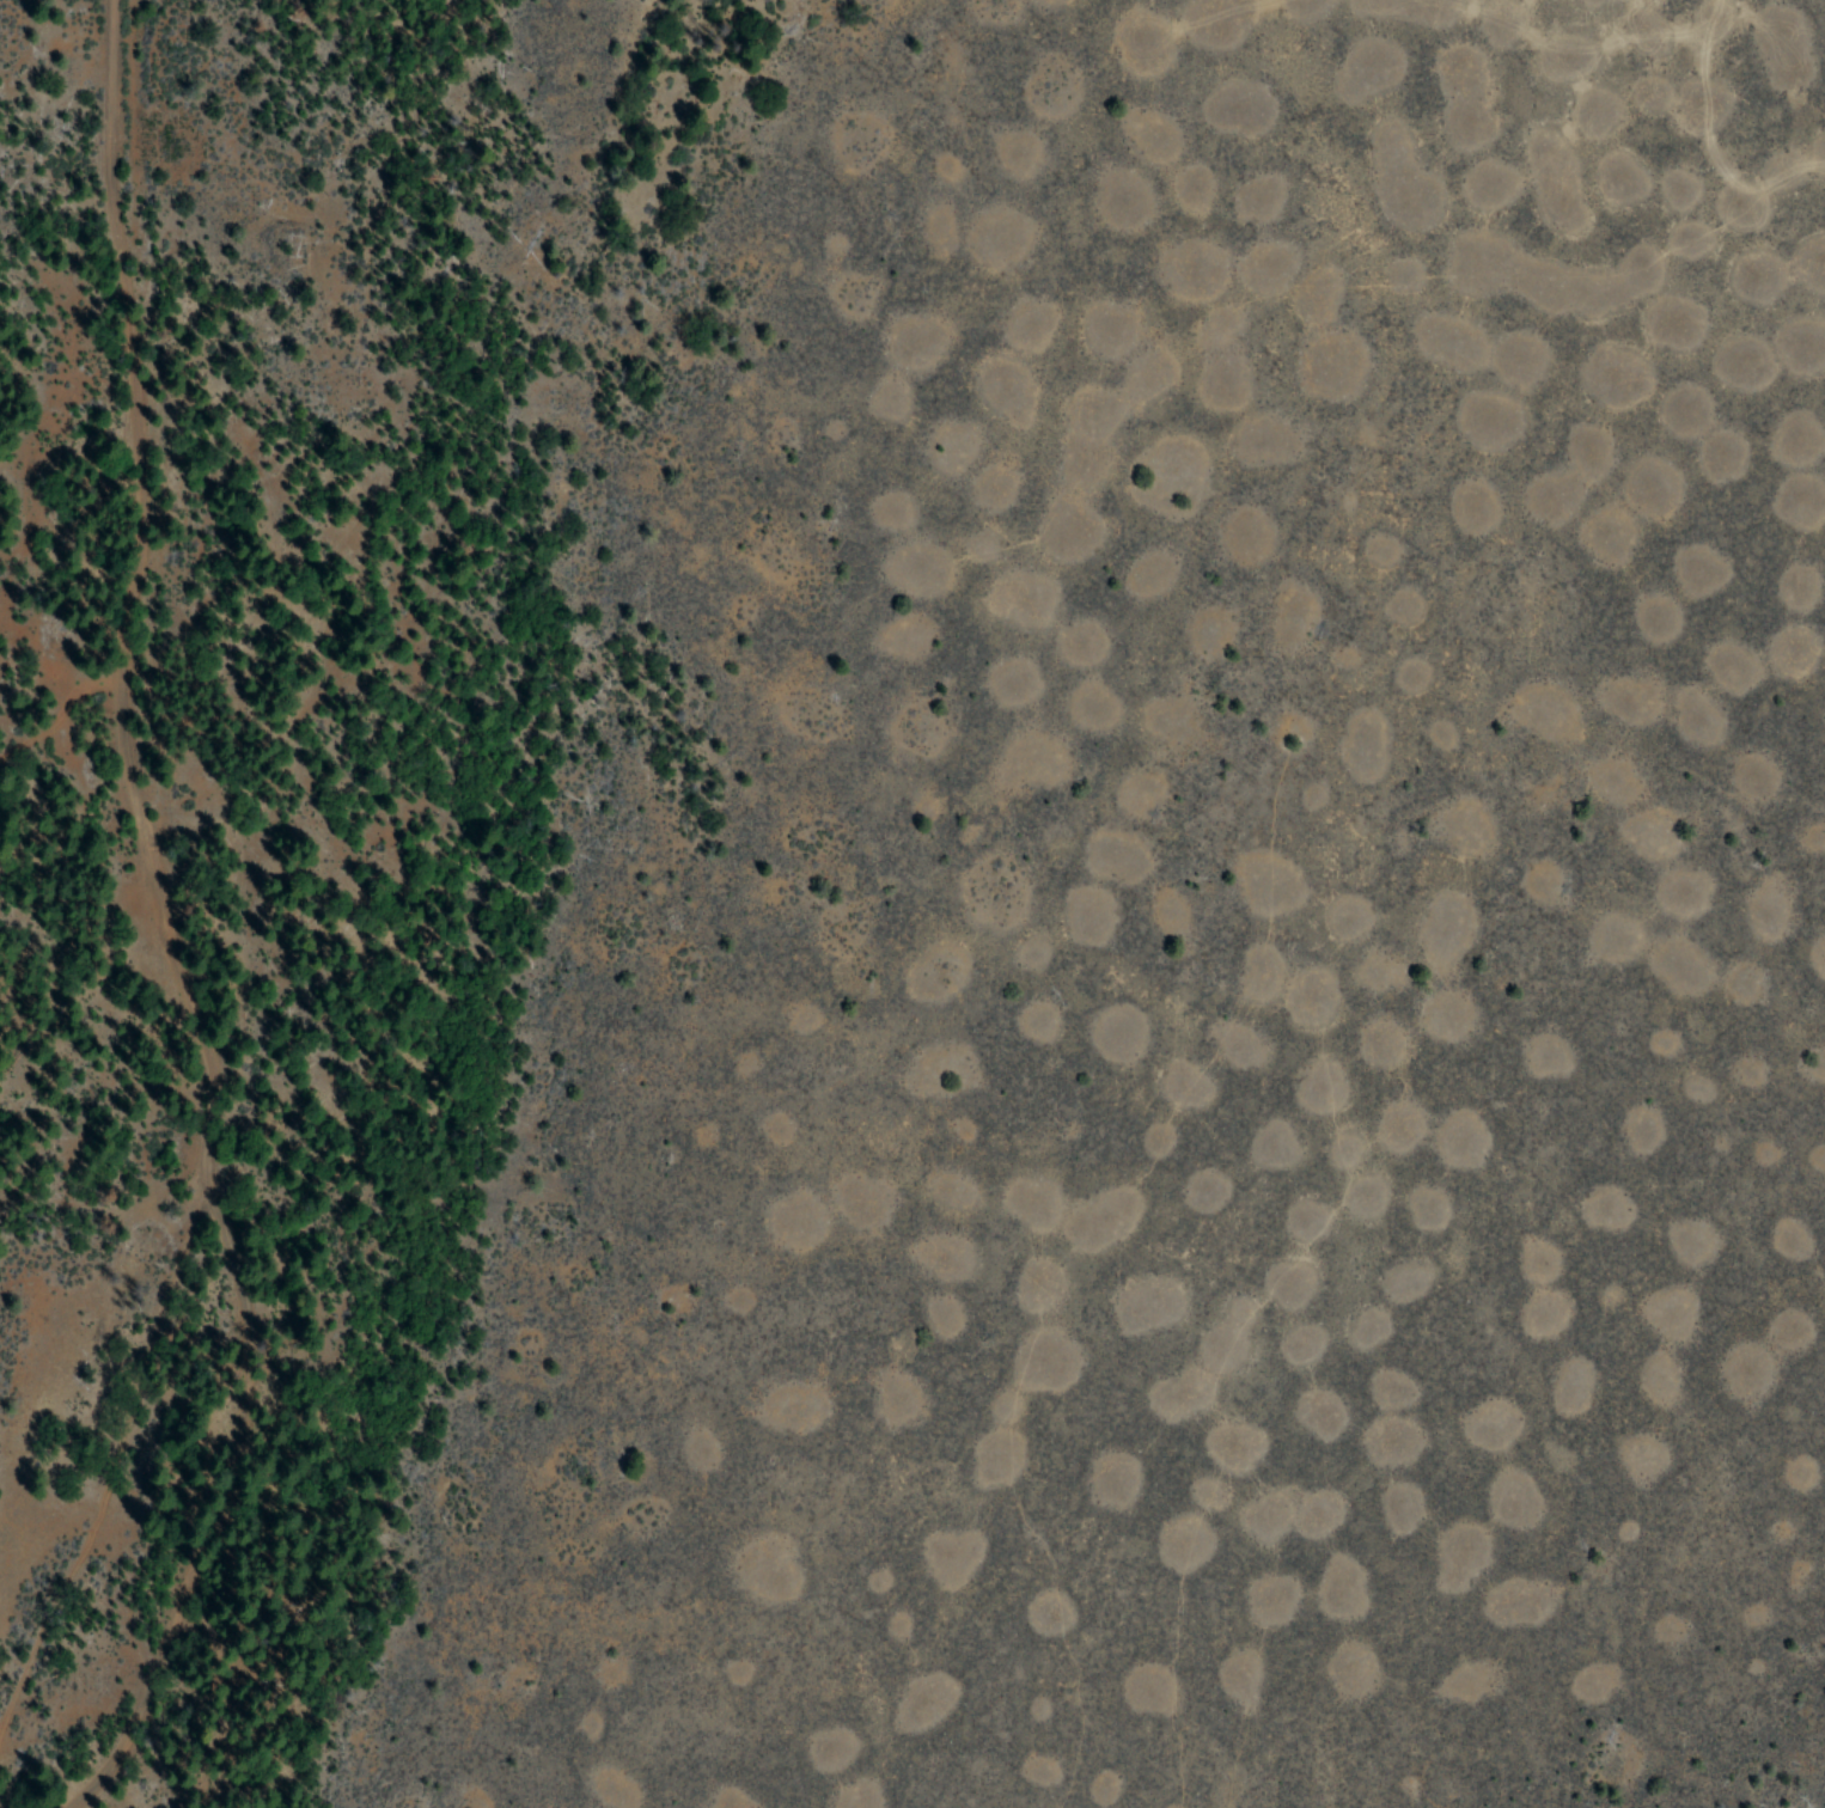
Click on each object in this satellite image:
road: (260, 876)
road: (75, 1771)

